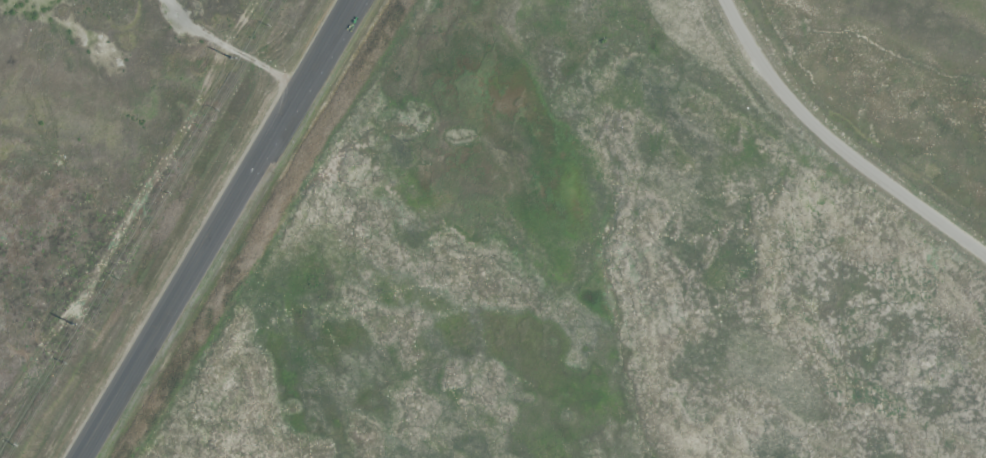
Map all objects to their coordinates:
power tower: (231, 59)
park: (902, 76)
road: (836, 141)
park: (93, 157)
road: (217, 228)
park: (589, 270)
power tower: (71, 324)

